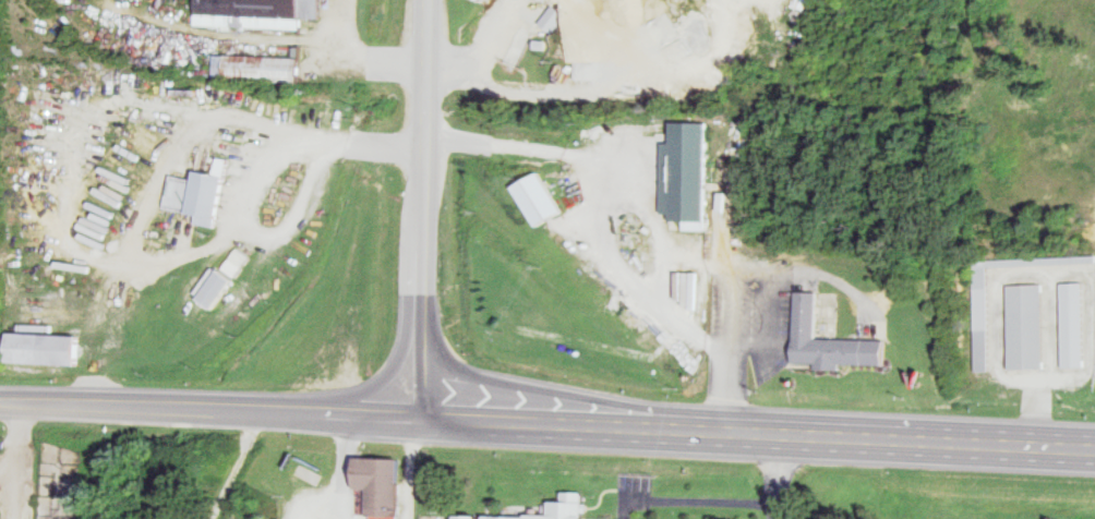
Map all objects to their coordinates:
building: (263, 13)
building: (555, 19)
building: (263, 68)
road: (422, 108)
building: (674, 167)
building: (205, 194)
building: (544, 200)
building: (220, 287)
road: (422, 316)
building: (1081, 325)
building: (1033, 326)
building: (814, 338)
building: (51, 349)
road: (212, 410)
road: (759, 433)
building: (388, 486)
building: (567, 508)
building: (479, 517)

